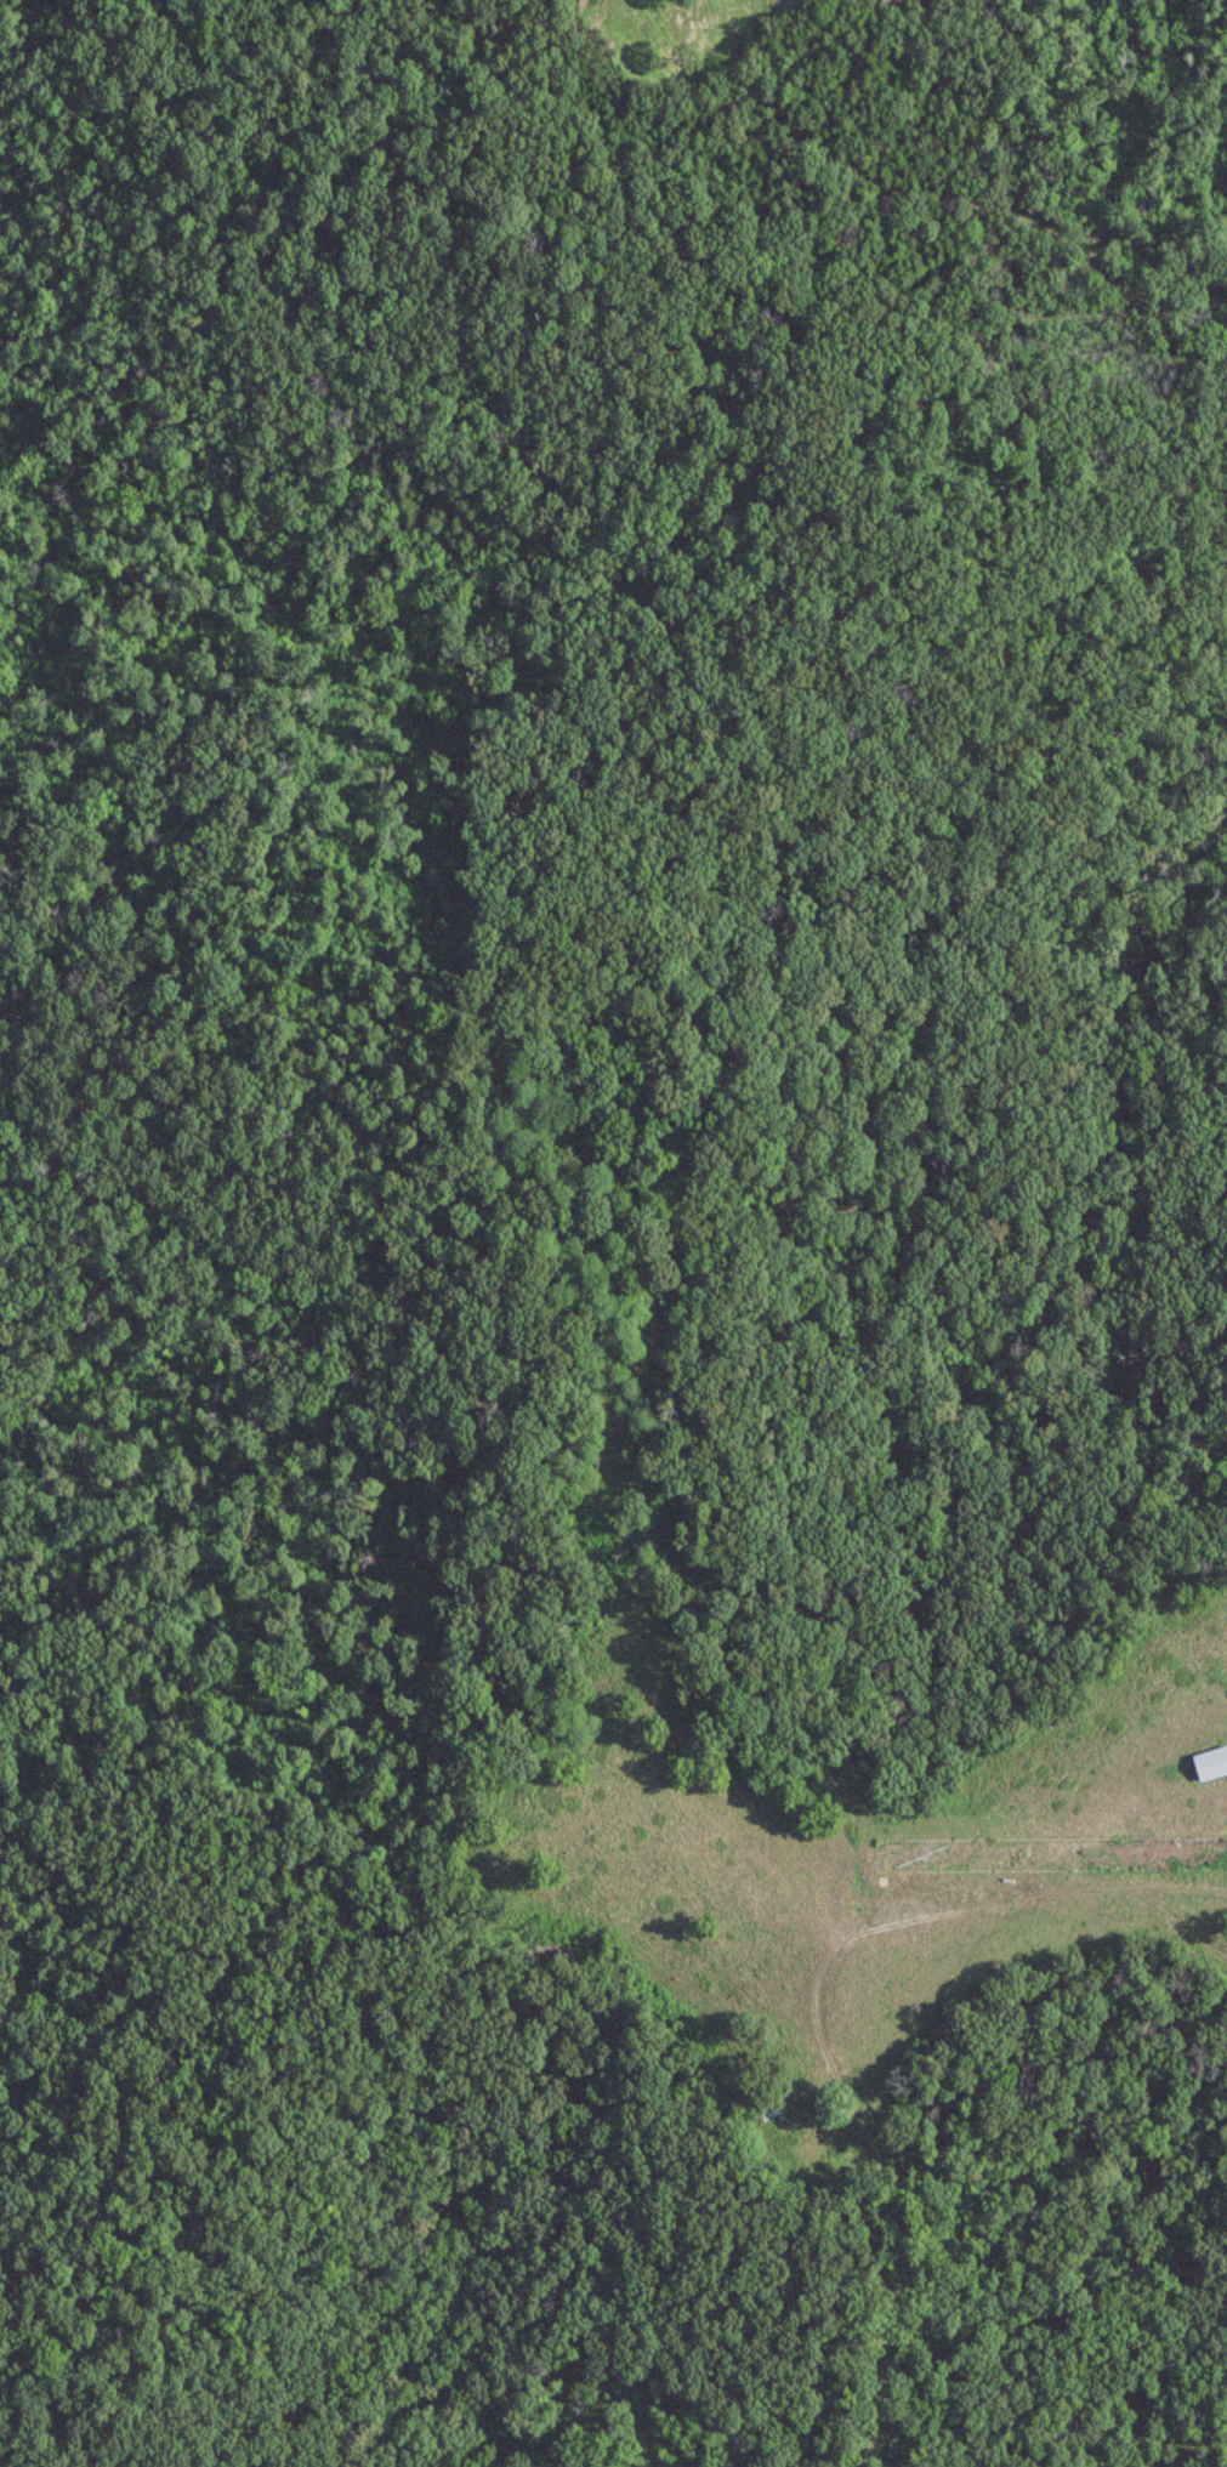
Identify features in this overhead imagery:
building: (1212, 1762)

